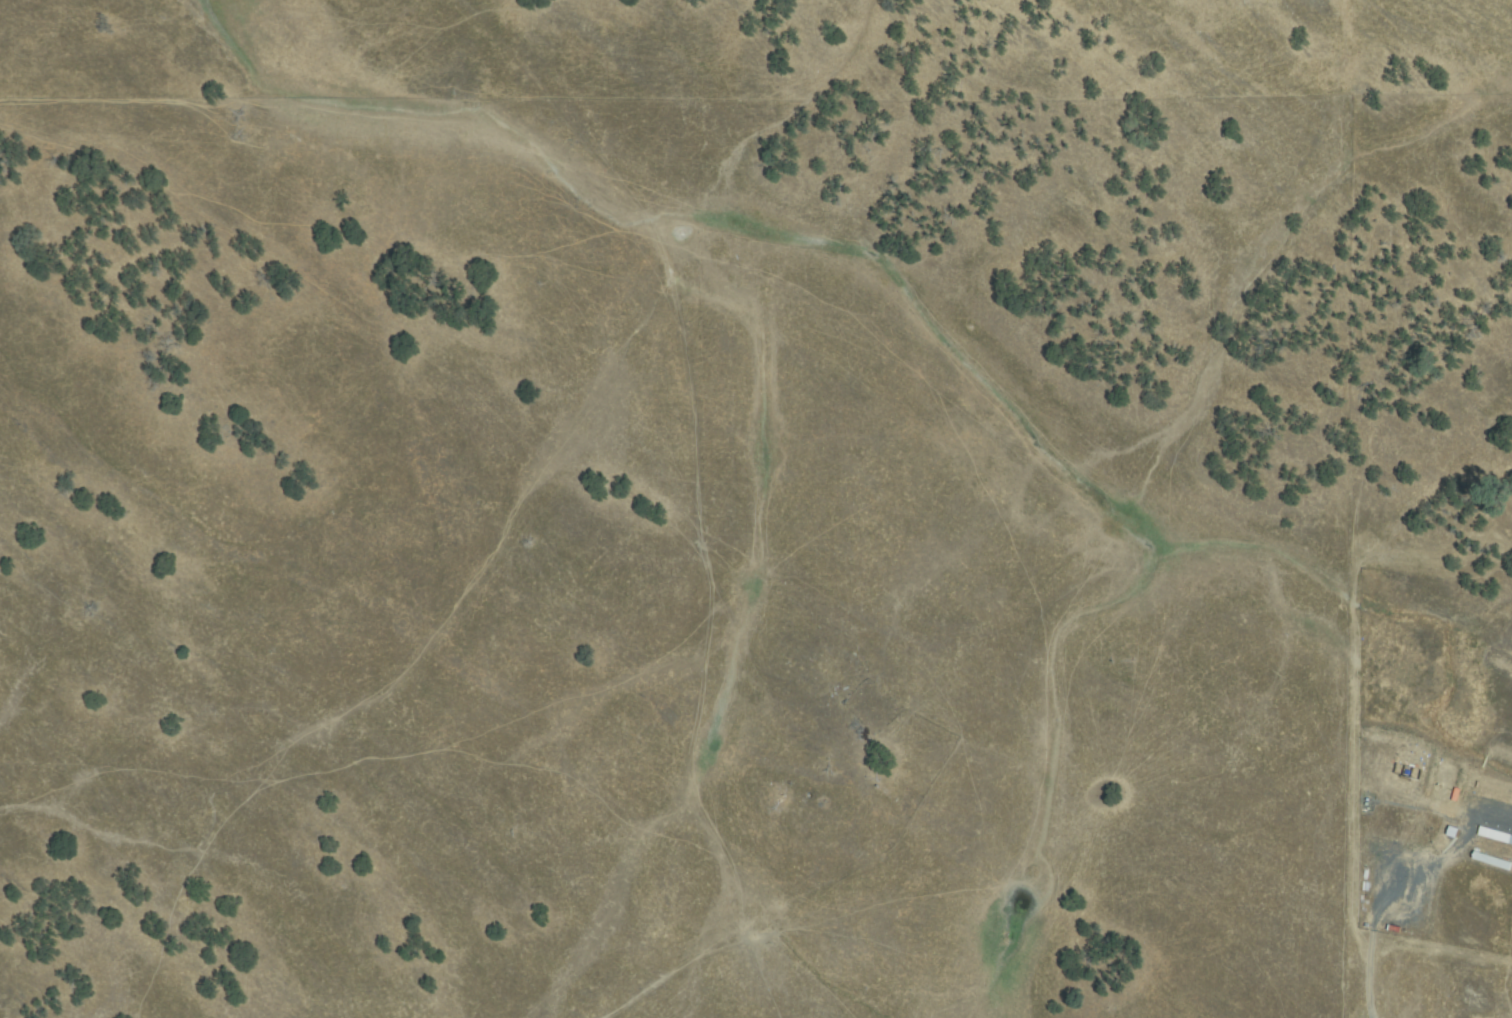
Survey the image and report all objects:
road: (177, 191)
road: (709, 515)
building: (1451, 832)
building: (1496, 835)

